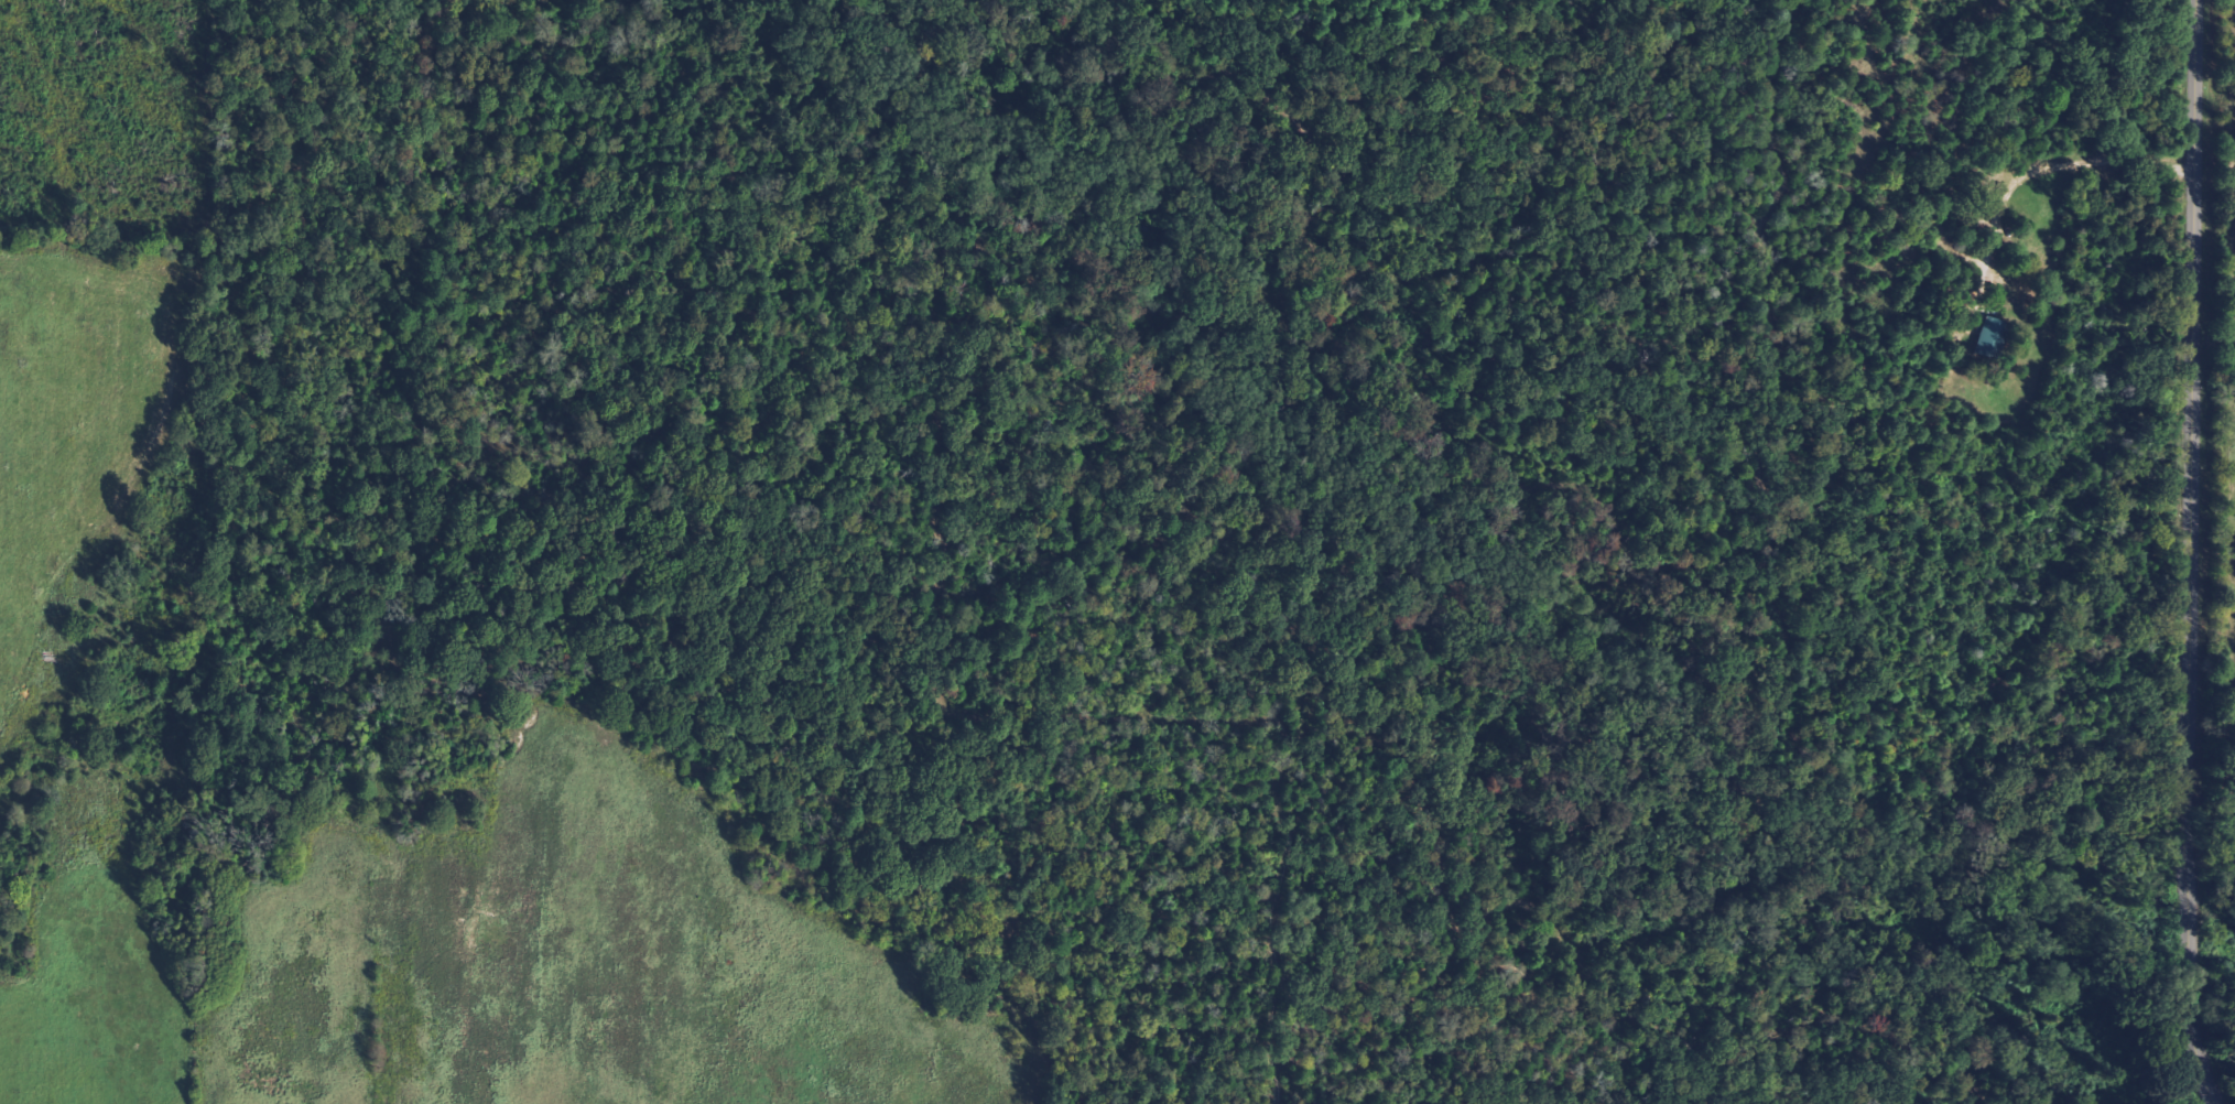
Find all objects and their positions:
building: (1993, 336)
road: (2188, 554)

